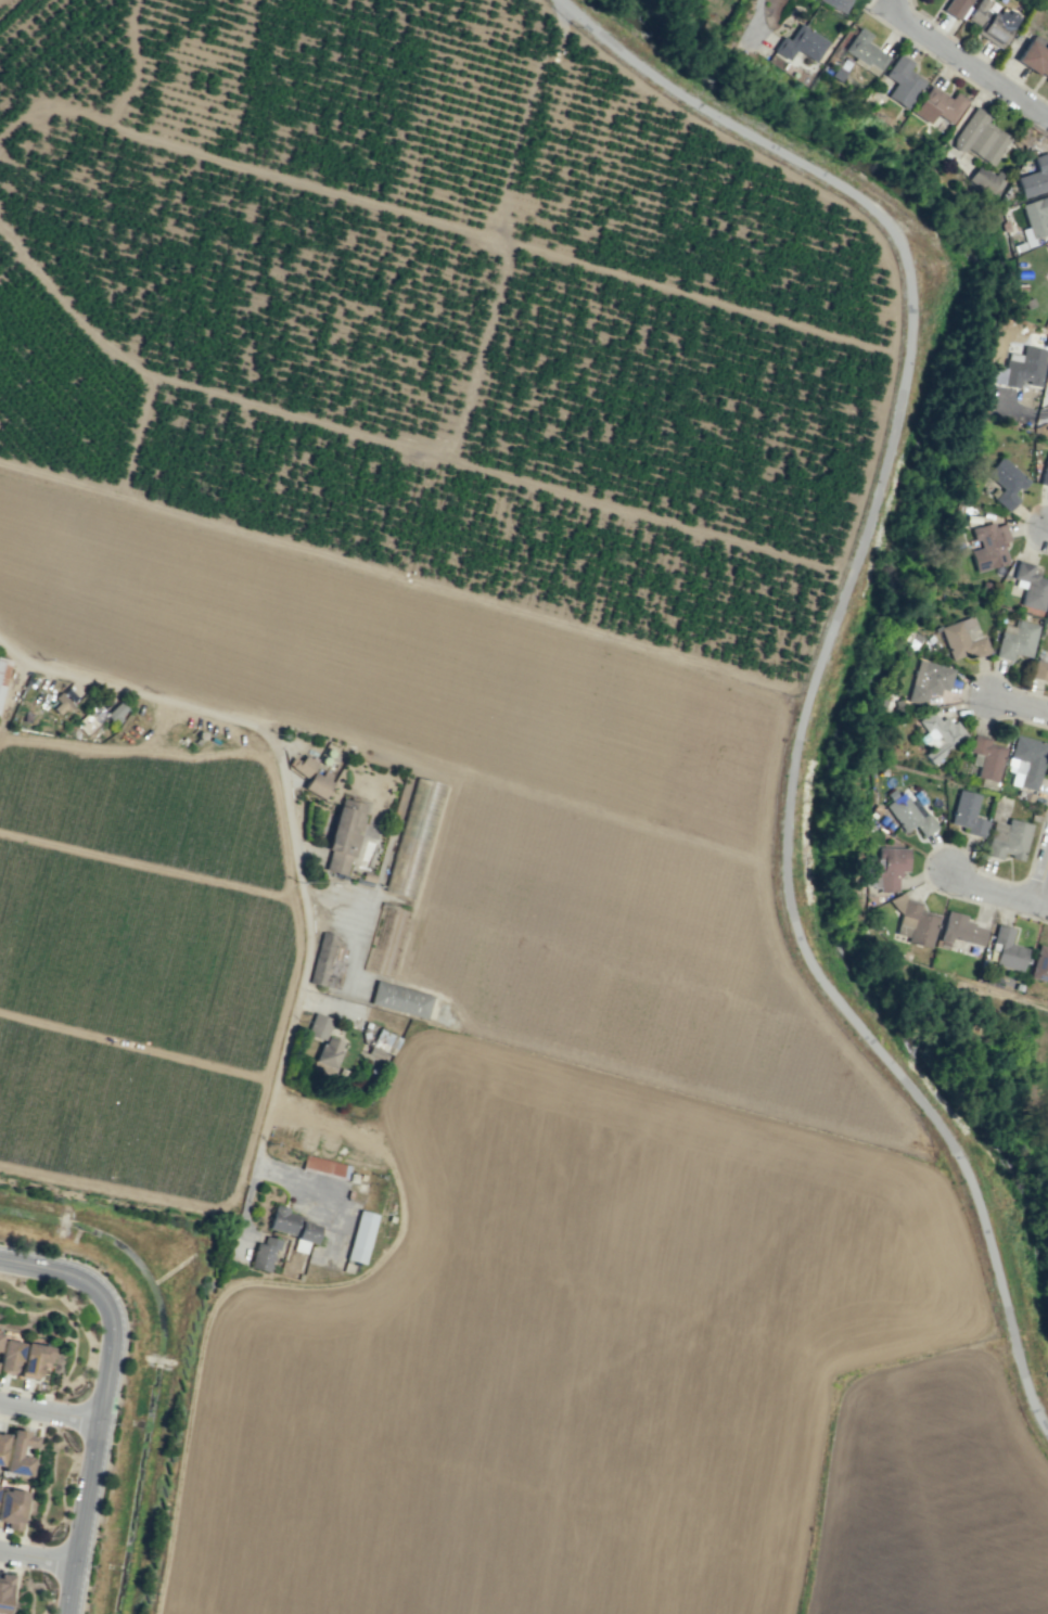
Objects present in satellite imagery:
building: (1047, 0)
building: (835, 4)
road: (898, 5)
building: (955, 8)
building: (991, 21)
road: (745, 24)
building: (800, 43)
building: (1035, 56)
road: (972, 65)
building: (902, 81)
building: (938, 105)
building: (980, 137)
building: (1034, 177)
building: (987, 180)
building: (1035, 216)
building: (1047, 247)
building: (1023, 367)
building: (993, 374)
road: (1044, 412)
building: (1045, 472)
building: (1005, 482)
road: (1044, 523)
building: (988, 546)
park: (933, 549)
building: (1030, 586)
building: (962, 638)
building: (1015, 640)
road: (818, 661)
building: (1039, 670)
building: (3, 671)
building: (928, 681)
road: (1021, 701)
building: (115, 712)
building: (938, 734)
building: (985, 757)
building: (1025, 761)
building: (301, 765)
building: (316, 784)
building: (966, 812)
building: (907, 815)
road: (293, 825)
crop: (477, 830)
building: (343, 835)
building: (413, 836)
building: (1007, 838)
building: (885, 869)
road: (1004, 891)
building: (913, 921)
building: (959, 930)
building: (1006, 949)
building: (327, 961)
building: (1039, 964)
building: (402, 1000)
building: (318, 1026)
building: (385, 1041)
building: (328, 1053)
crop: (988, 1055)
crop: (473, 1104)
road: (835, 1141)
building: (324, 1166)
building: (292, 1227)
building: (360, 1237)
building: (263, 1254)
building: (0, 1333)
building: (9, 1356)
building: (33, 1359)
road: (104, 1398)
road: (51, 1407)
building: (2, 1444)
building: (17, 1453)
building: (11, 1508)
road: (37, 1558)
building: (4, 1590)

